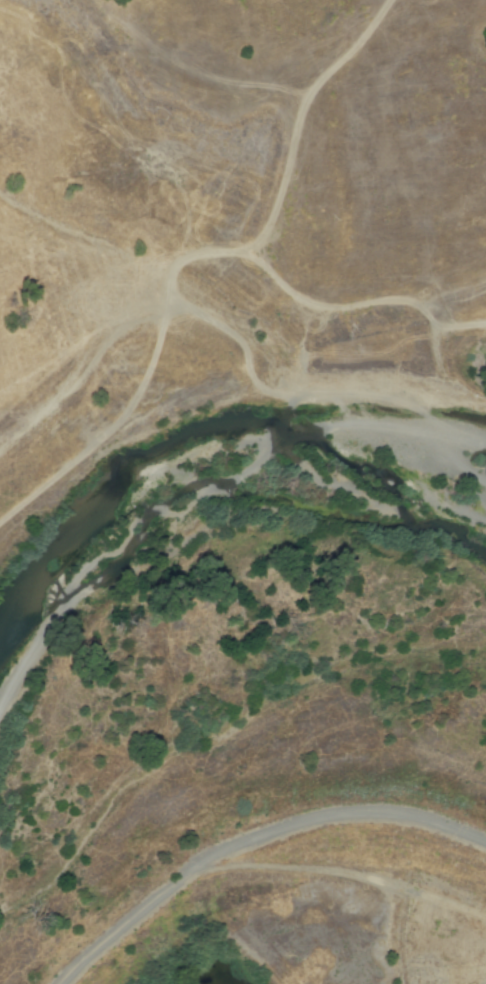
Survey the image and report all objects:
road: (385, 44)
river: (173, 464)

